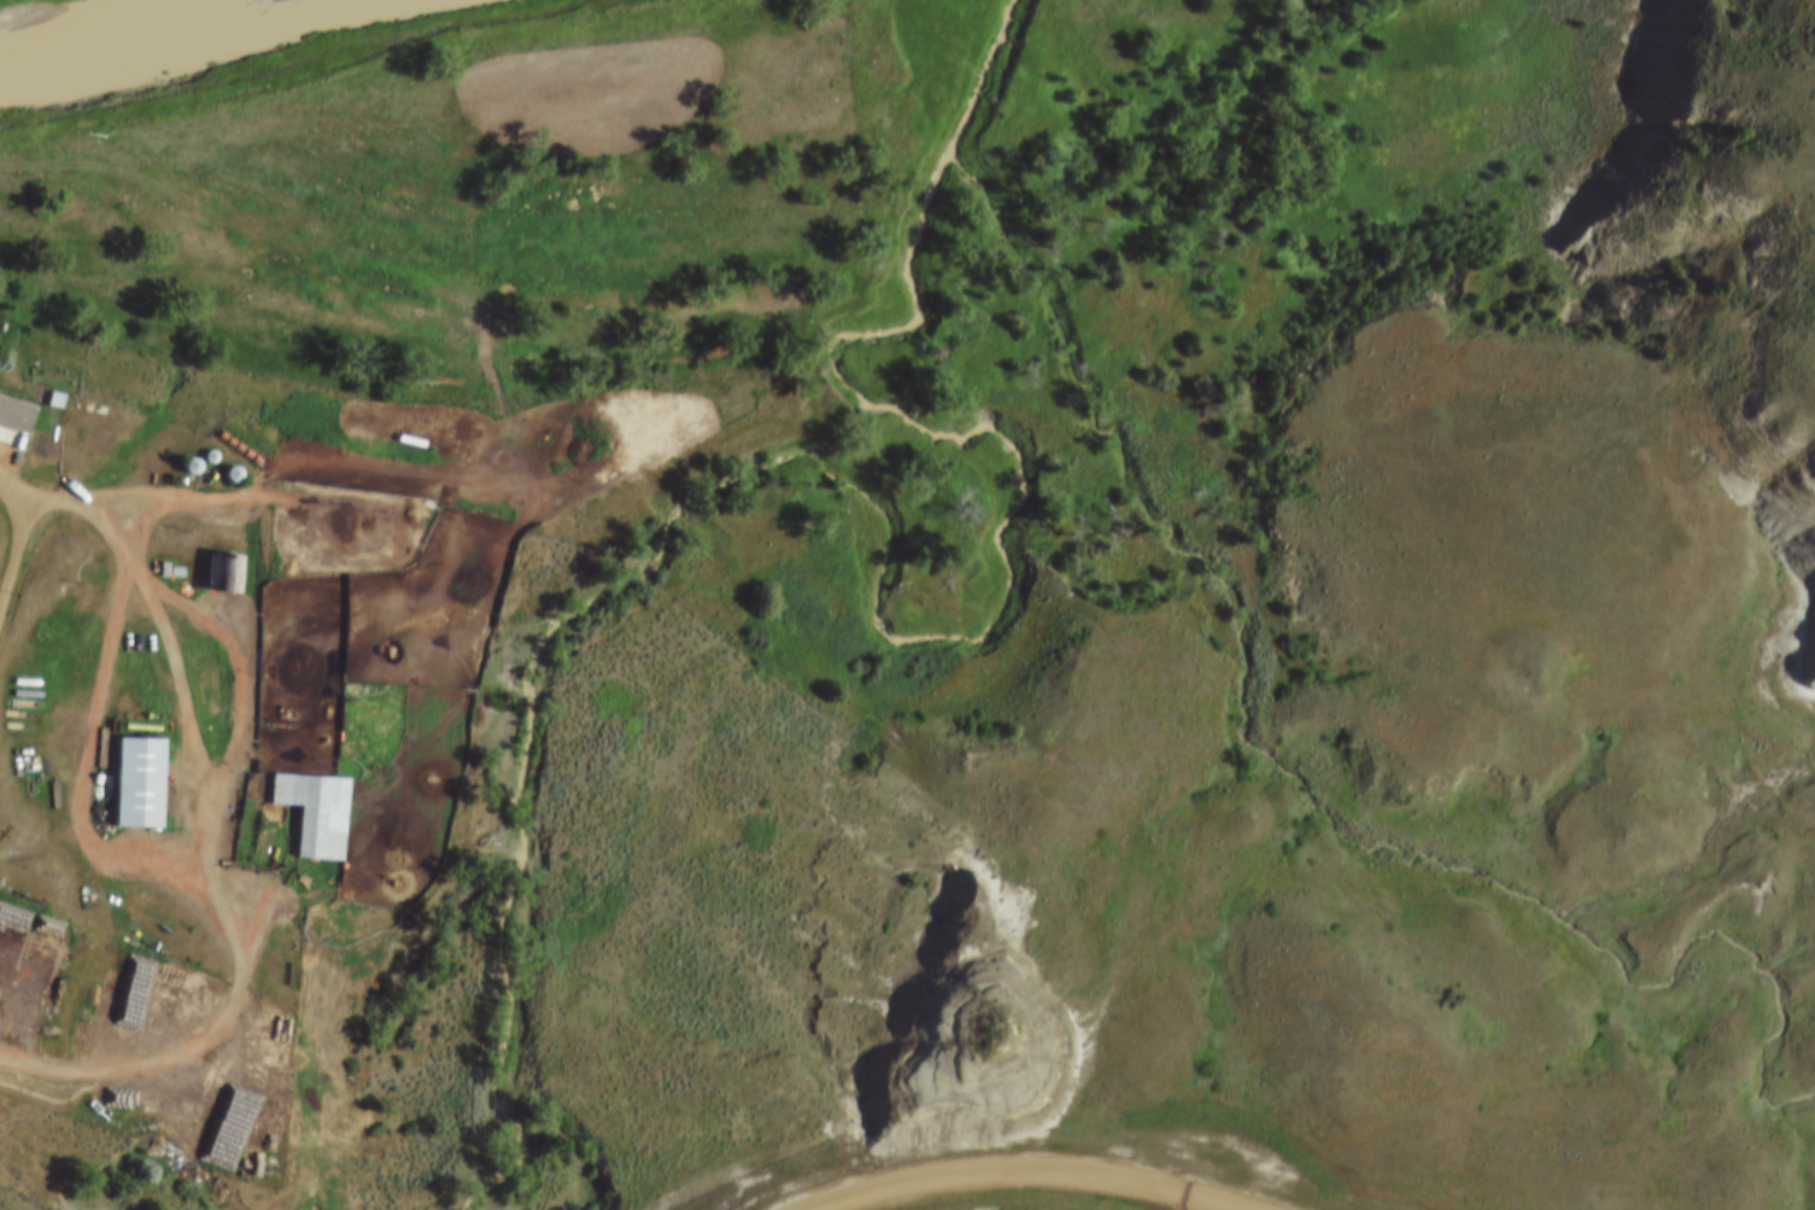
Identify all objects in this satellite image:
river: (157, 33)
building: (2, 404)
road: (19, 536)
building: (227, 574)
building: (141, 783)
building: (316, 813)
road: (215, 832)
road: (979, 1185)

